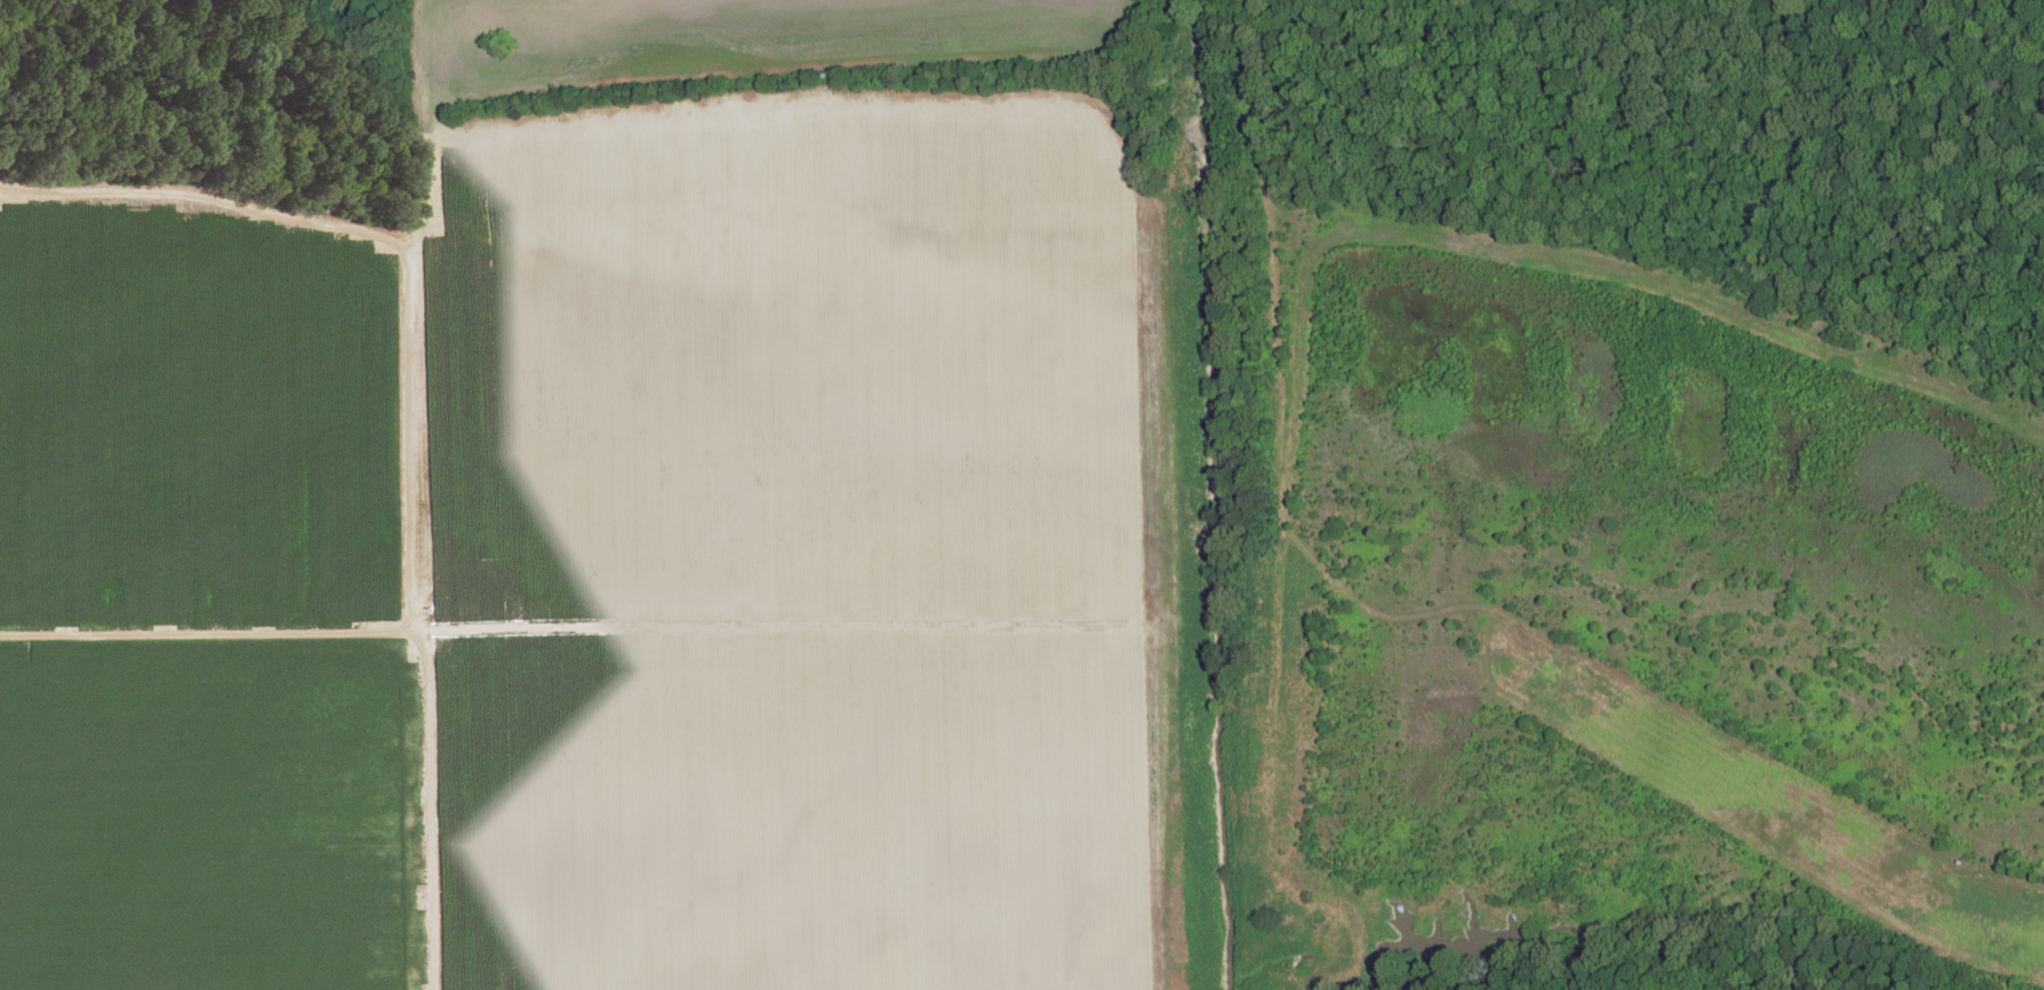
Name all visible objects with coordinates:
road: (401, 419)

